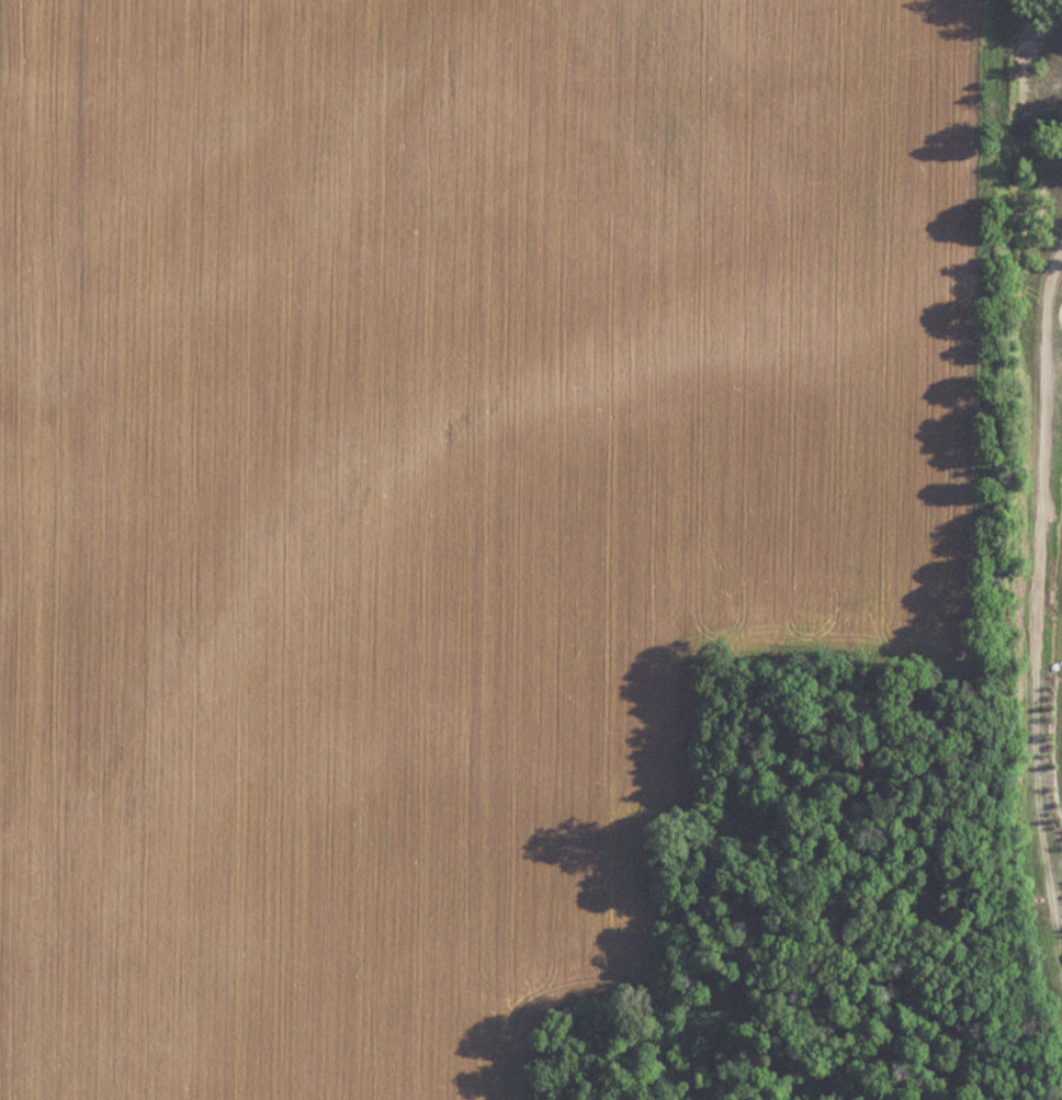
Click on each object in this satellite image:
road: (1036, 580)

